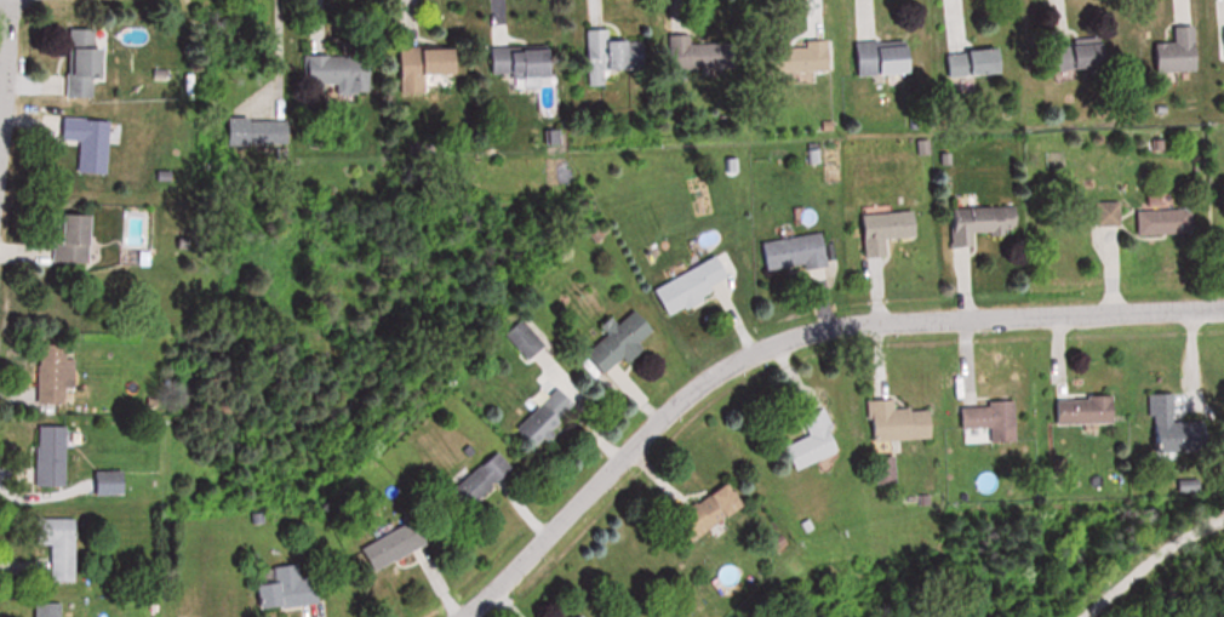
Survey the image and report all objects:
road: (0, 0)
road: (0, 23)
building: (1219, 24)
building: (1168, 53)
building: (1068, 56)
building: (607, 57)
building: (870, 58)
building: (790, 59)
building: (90, 62)
building: (511, 62)
building: (963, 63)
building: (412, 68)
building: (331, 73)
building: (96, 143)
building: (1102, 215)
building: (1159, 223)
building: (974, 224)
building: (877, 233)
building: (79, 239)
building: (785, 253)
building: (685, 286)
road: (789, 339)
building: (611, 344)
building: (59, 375)
building: (1076, 411)
building: (539, 419)
building: (983, 421)
building: (896, 424)
building: (1161, 428)
building: (799, 452)
building: (55, 457)
building: (877, 472)
building: (113, 482)
building: (474, 482)
building: (700, 514)
building: (385, 548)
building: (64, 550)
road: (1140, 555)
building: (281, 589)
building: (51, 610)

